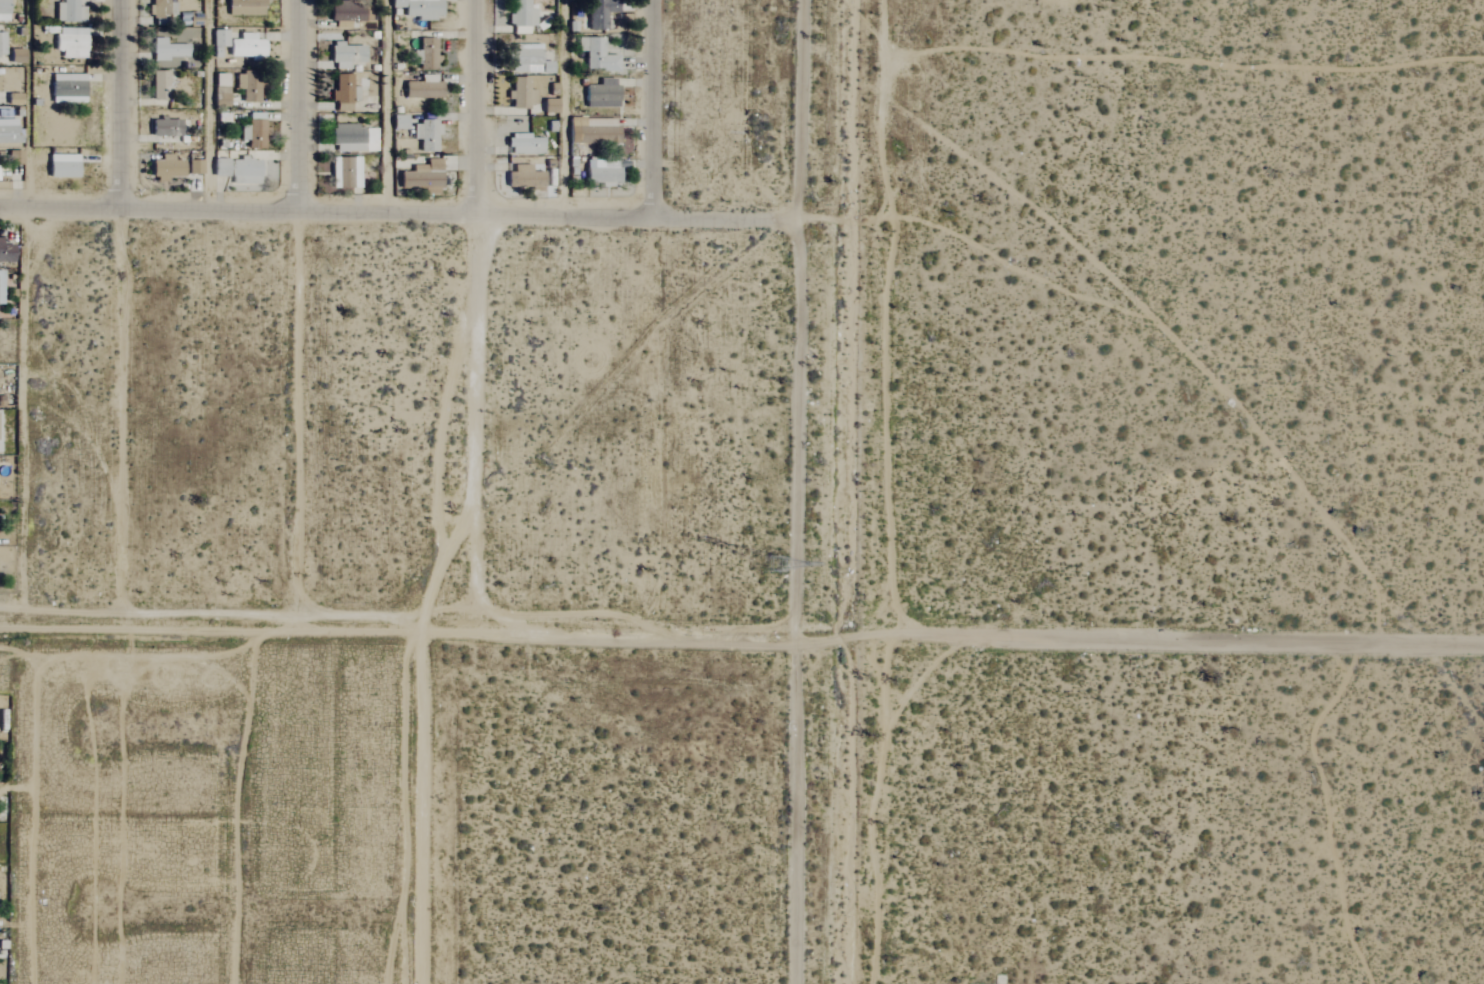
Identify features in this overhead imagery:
building: (244, 7)
building: (419, 8)
building: (3, 10)
building: (69, 11)
building: (348, 12)
building: (599, 13)
building: (521, 17)
building: (219, 38)
building: (71, 42)
building: (2, 45)
building: (245, 47)
building: (168, 50)
building: (345, 55)
building: (425, 55)
building: (595, 55)
building: (524, 59)
building: (159, 86)
building: (246, 86)
building: (538, 88)
building: (67, 89)
building: (421, 90)
building: (342, 93)
building: (520, 94)
building: (600, 94)
road: (124, 104)
road: (299, 105)
road: (386, 106)
road: (477, 106)
road: (563, 107)
road: (653, 108)
building: (164, 127)
building: (591, 131)
building: (8, 132)
building: (252, 134)
building: (425, 135)
building: (352, 137)
building: (524, 145)
building: (61, 166)
building: (194, 167)
building: (219, 167)
building: (165, 169)
building: (244, 171)
building: (600, 172)
building: (344, 173)
building: (421, 178)
building: (524, 178)
road: (398, 212)
road: (845, 220)
building: (6, 252)
building: (1, 285)
road: (794, 491)
power tower: (770, 568)
road: (250, 629)
road: (992, 638)
road: (249, 871)

